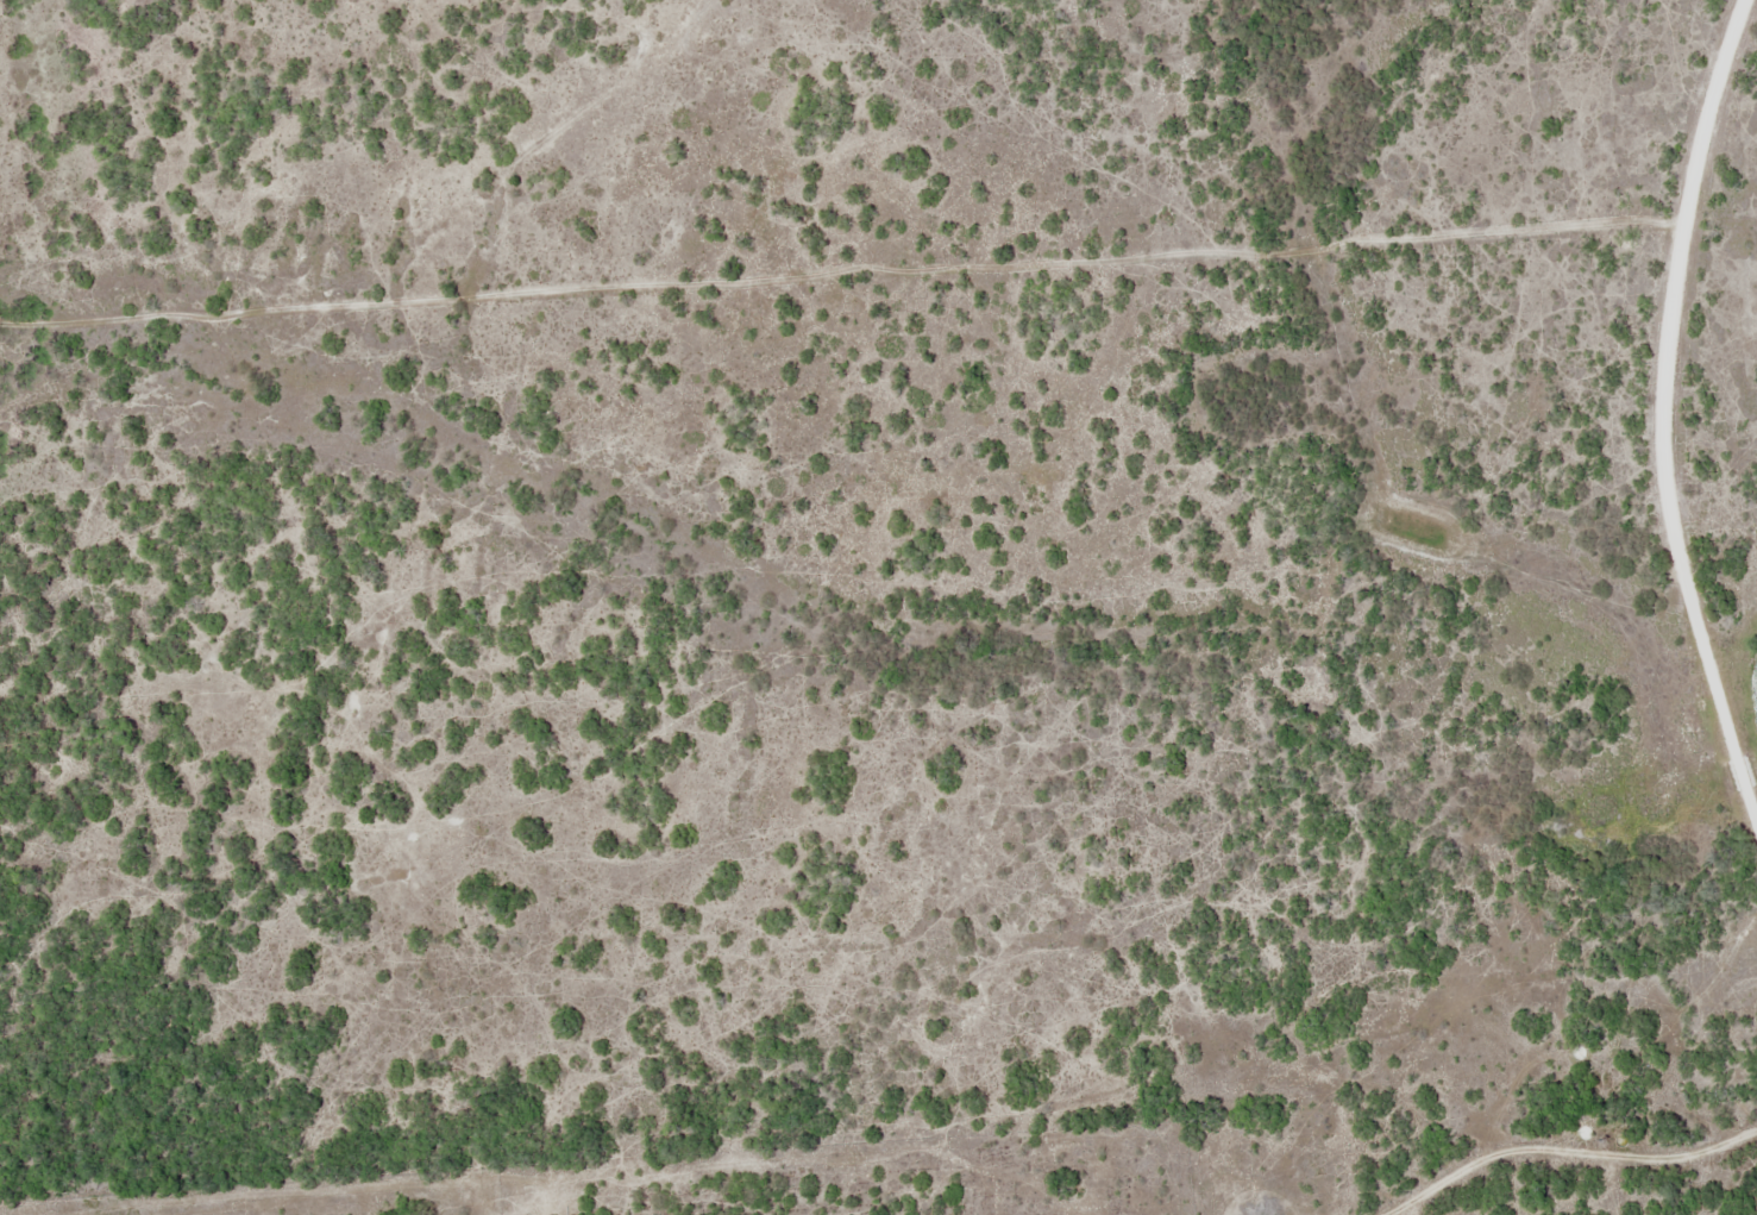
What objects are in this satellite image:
road: (1687, 382)
road: (1570, 1125)

